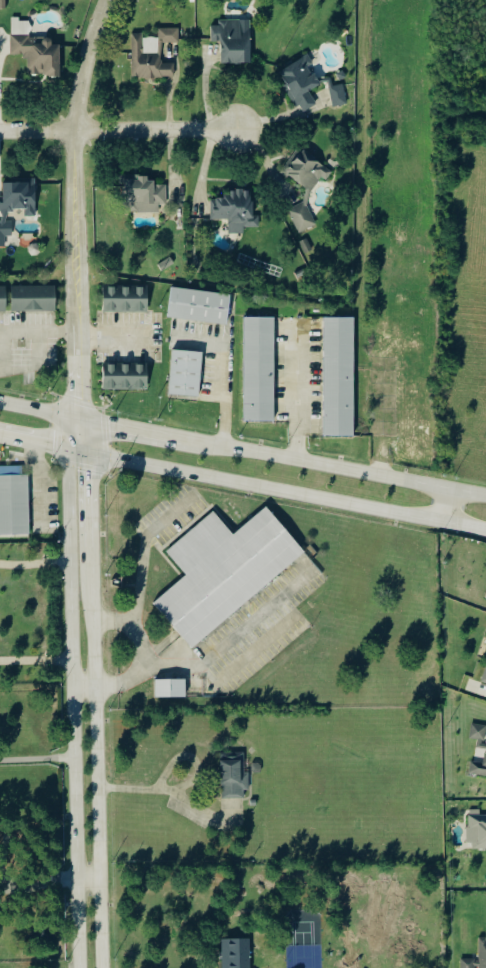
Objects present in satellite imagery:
building: (2, 4)
building: (234, 41)
building: (36, 49)
building: (153, 54)
building: (340, 75)
building: (302, 82)
road: (0, 85)
building: (339, 95)
road: (153, 130)
road: (35, 131)
building: (309, 170)
building: (146, 194)
building: (17, 204)
road: (72, 207)
building: (237, 210)
building: (303, 216)
building: (165, 264)
building: (2, 299)
building: (32, 299)
building: (124, 299)
building: (198, 306)
road: (4, 353)
building: (257, 369)
building: (184, 373)
building: (124, 376)
building: (337, 377)
road: (383, 390)
road: (220, 395)
road: (297, 395)
traffic signals: (77, 397)
road: (38, 412)
traffic signals: (110, 426)
road: (139, 431)
building: (421, 445)
road: (42, 447)
traffic signals: (52, 449)
road: (260, 453)
traffic signals: (86, 472)
road: (199, 476)
road: (402, 480)
road: (41, 485)
road: (86, 499)
building: (14, 504)
road: (445, 506)
road: (399, 513)
road: (147, 552)
road: (35, 562)
building: (222, 571)
road: (131, 628)
road: (36, 663)
road: (193, 671)
building: (484, 679)
building: (169, 689)
road: (73, 693)
building: (479, 734)
road: (37, 759)
building: (478, 769)
road: (93, 774)
building: (235, 776)
road: (160, 790)
building: (477, 829)
road: (86, 875)
building: (483, 946)
building: (240, 952)

